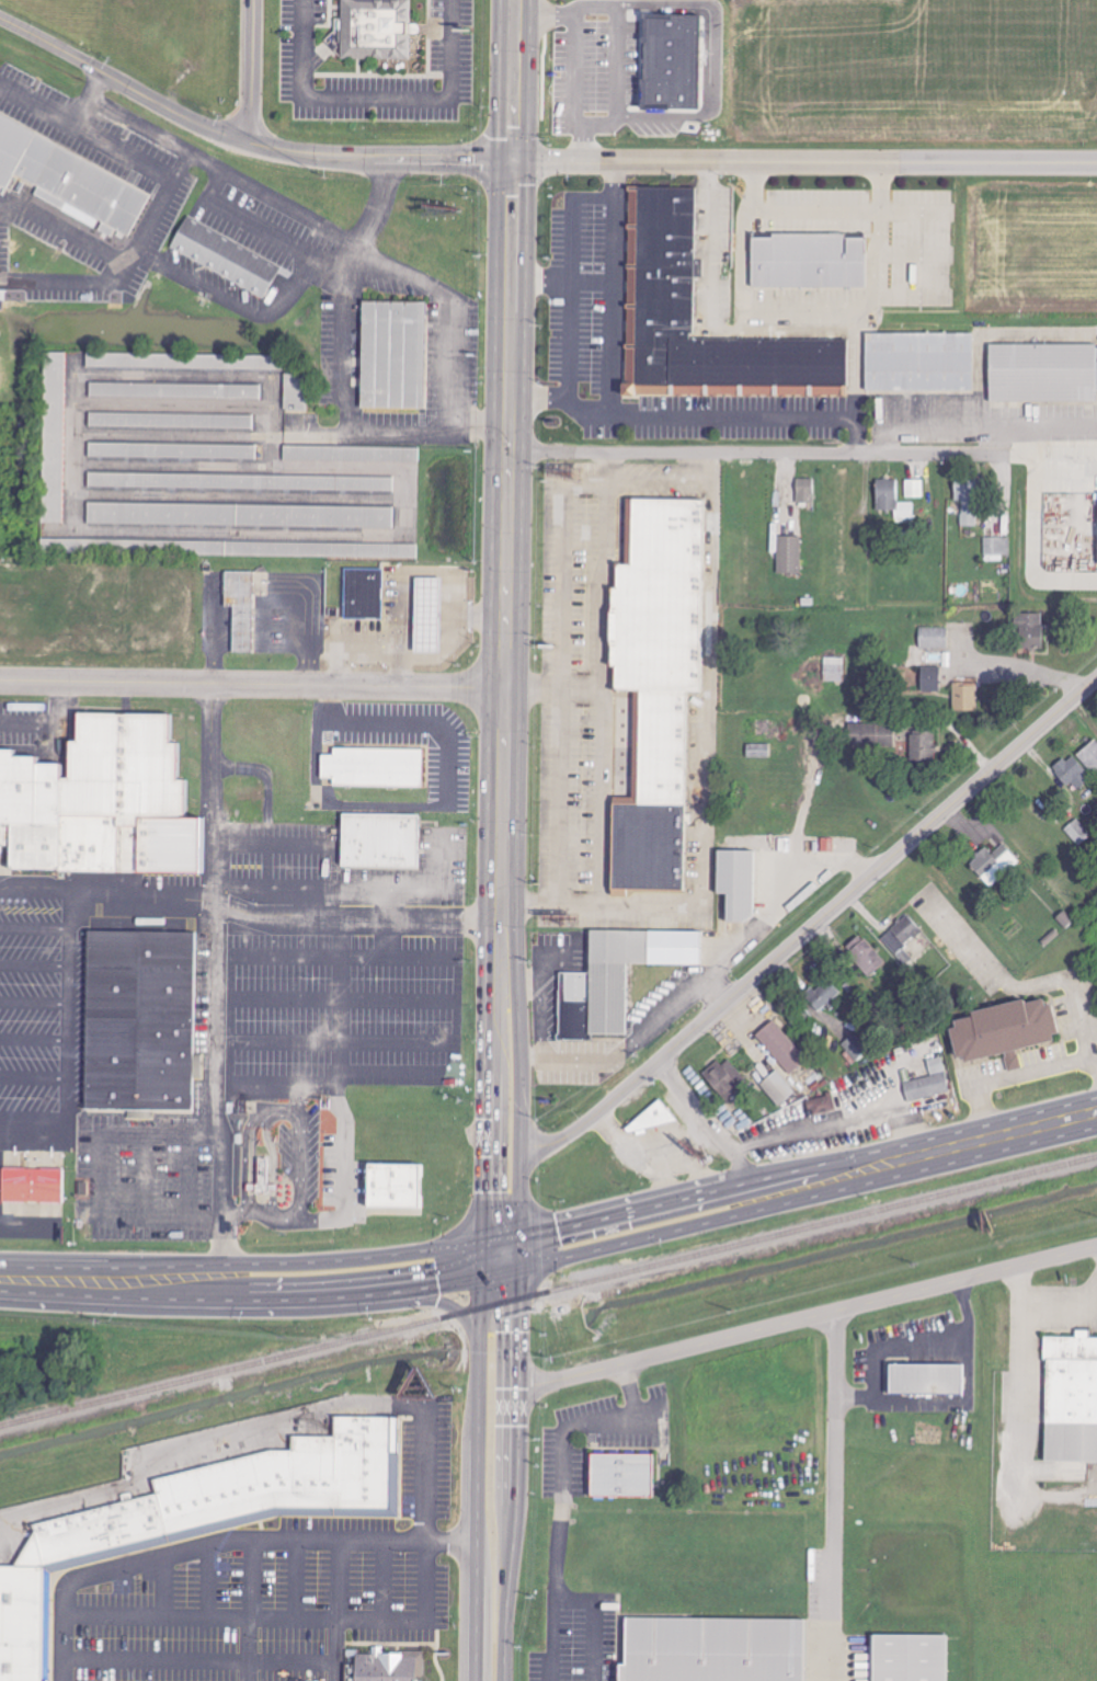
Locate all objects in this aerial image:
building: (376, 30)
building: (671, 61)
road: (251, 71)
road: (88, 103)
road: (377, 106)
road: (36, 113)
road: (242, 140)
traffic signals: (513, 160)
road: (804, 162)
building: (68, 179)
building: (659, 196)
road: (262, 198)
building: (659, 216)
building: (659, 232)
road: (141, 240)
building: (658, 251)
building: (224, 256)
building: (808, 261)
building: (656, 275)
road: (562, 289)
building: (658, 296)
road: (567, 311)
road: (452, 312)
building: (658, 315)
building: (653, 332)
building: (391, 354)
building: (180, 361)
building: (918, 362)
building: (711, 364)
building: (676, 365)
building: (694, 365)
building: (729, 365)
building: (746, 365)
building: (764, 365)
building: (781, 365)
building: (798, 365)
building: (825, 365)
building: (644, 368)
building: (1042, 374)
building: (174, 390)
road: (584, 416)
building: (171, 420)
road: (347, 422)
road: (617, 422)
road: (508, 434)
building: (54, 436)
building: (172, 450)
road: (758, 453)
building: (351, 454)
building: (241, 481)
road: (584, 482)
road: (672, 482)
building: (914, 489)
building: (804, 491)
building: (892, 501)
building: (968, 504)
building: (241, 515)
building: (997, 548)
building: (289, 549)
building: (789, 554)
building: (363, 594)
building: (240, 608)
building: (426, 615)
building: (1030, 630)
building: (933, 638)
building: (834, 668)
road: (604, 676)
building: (930, 679)
road: (558, 683)
road: (252, 685)
building: (654, 685)
road: (553, 689)
building: (964, 697)
building: (922, 746)
building: (757, 751)
building: (1090, 756)
building: (373, 765)
building: (1073, 773)
road: (207, 793)
building: (99, 802)
building: (379, 839)
road: (268, 843)
road: (270, 865)
building: (993, 865)
building: (735, 884)
road: (278, 887)
road: (400, 887)
road: (106, 892)
road: (591, 901)
road: (387, 902)
road: (348, 917)
road: (33, 926)
road: (812, 926)
building: (916, 951)
building: (867, 958)
road: (33, 963)
building: (616, 979)
road: (66, 984)
building: (823, 996)
road: (232, 998)
road: (346, 999)
road: (33, 1003)
parking lot: (41, 1008)
road: (342, 1015)
building: (139, 1019)
road: (459, 1022)
building: (1004, 1029)
road: (32, 1040)
road: (287, 1043)
building: (781, 1047)
building: (856, 1048)
road: (484, 1065)
road: (218, 1067)
road: (391, 1074)
road: (32, 1077)
building: (727, 1079)
building: (928, 1083)
building: (778, 1088)
building: (821, 1105)
road: (52, 1117)
building: (648, 1120)
road: (302, 1124)
road: (707, 1128)
road: (345, 1169)
building: (263, 1174)
parking lot: (142, 1177)
road: (140, 1178)
road: (807, 1182)
building: (393, 1183)
building: (32, 1185)
road: (102, 1199)
road: (227, 1212)
traffic signals: (517, 1256)
road: (501, 1260)
traffic signals: (484, 1266)
road: (516, 1273)
road: (242, 1281)
railway: (548, 1292)
road: (1042, 1306)
road: (807, 1317)
road: (907, 1346)
building: (926, 1379)
building: (1070, 1398)
road: (267, 1420)
road: (561, 1456)
road: (478, 1473)
building: (621, 1475)
building: (232, 1493)
road: (832, 1496)
road: (219, 1540)
road: (295, 1577)
road: (207, 1578)
road: (159, 1585)
road: (248, 1610)
road: (333, 1610)
road: (279, 1615)
road: (591, 1622)
building: (21, 1623)
road: (549, 1640)
building: (712, 1649)
building: (803, 1650)
road: (197, 1656)
building: (910, 1657)
building: (391, 1665)

